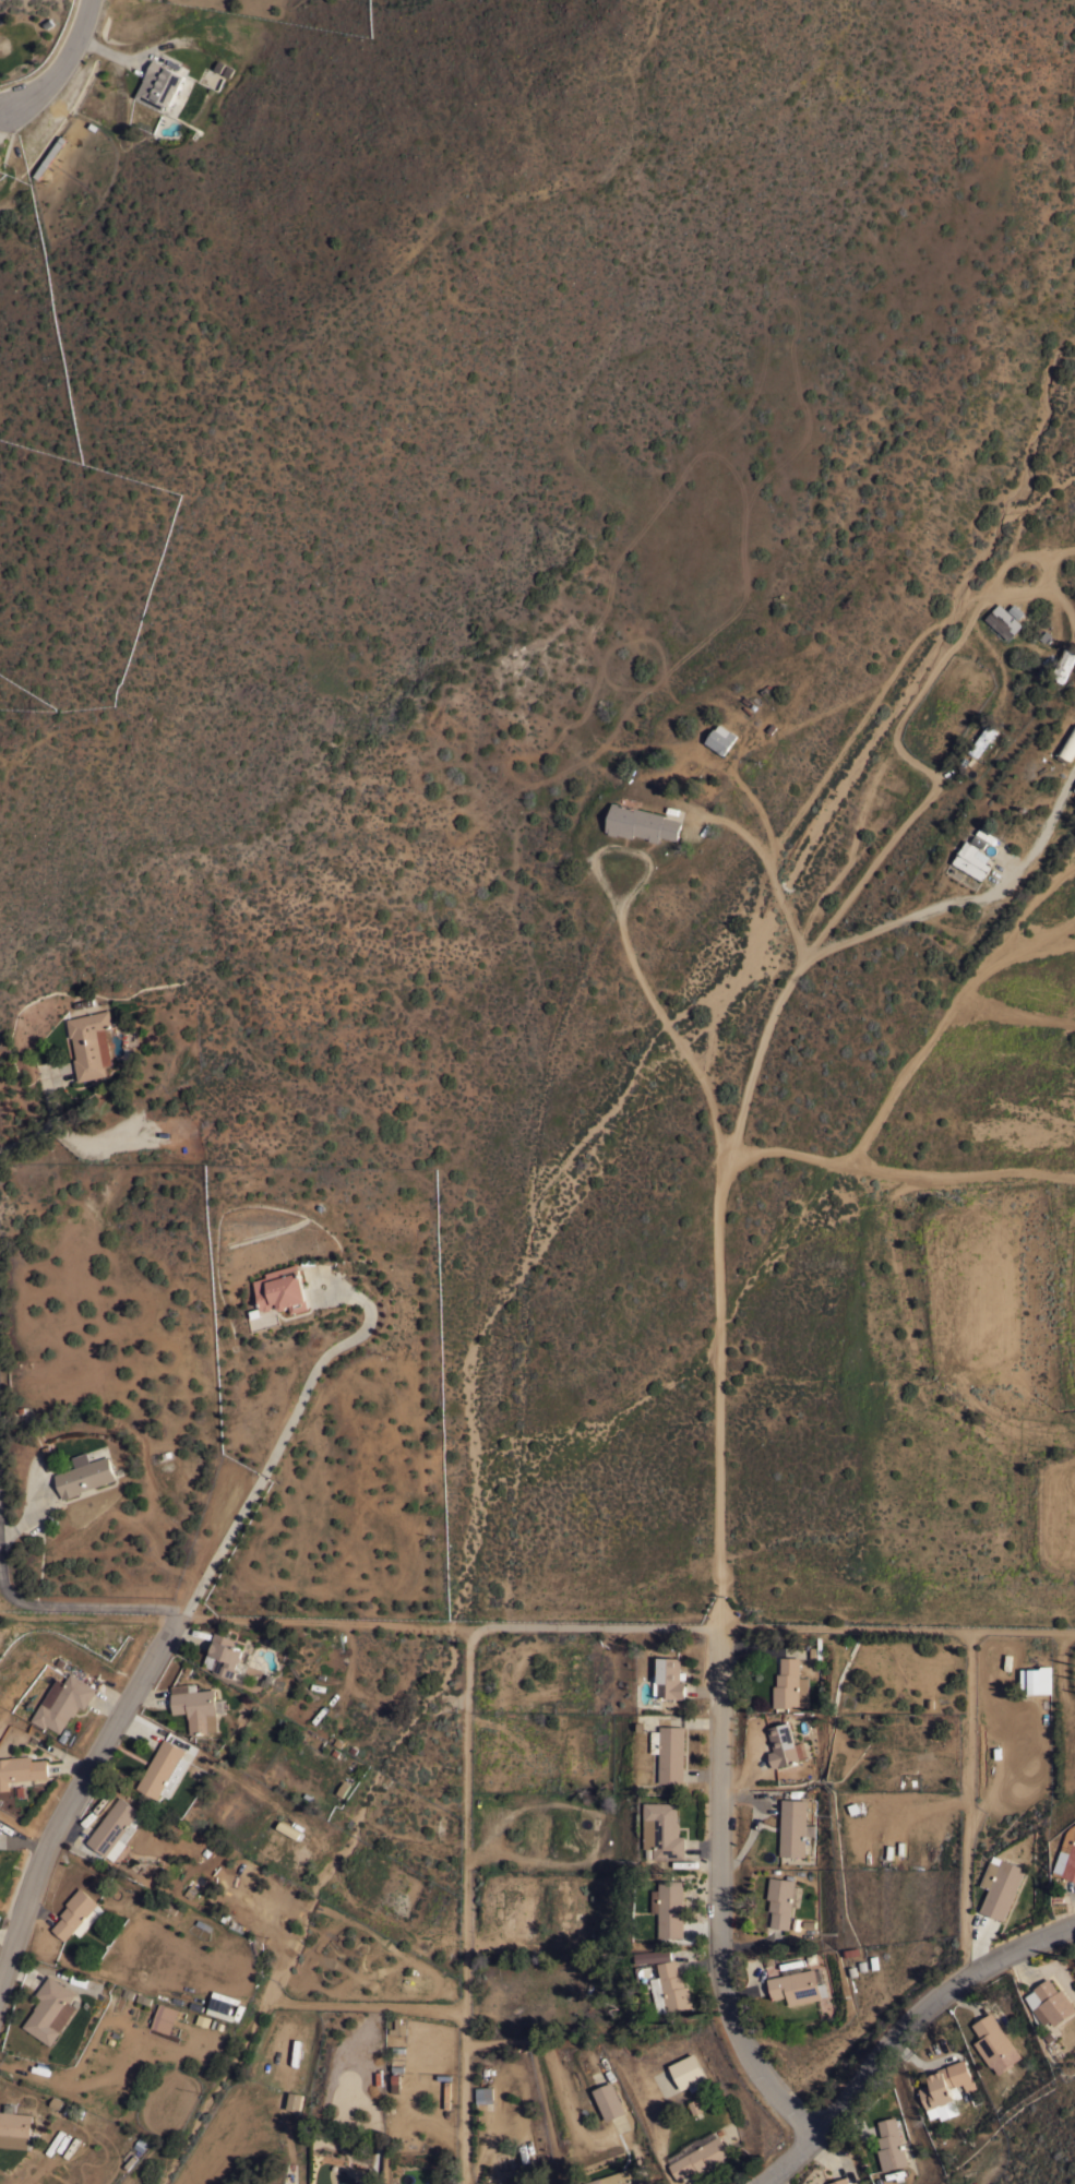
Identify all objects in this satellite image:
road: (62, 64)
building: (159, 84)
building: (1003, 621)
building: (1063, 664)
road: (898, 670)
building: (720, 738)
building: (979, 741)
building: (1067, 745)
building: (1074, 788)
building: (641, 823)
road: (759, 845)
building: (971, 859)
road: (847, 861)
road: (870, 867)
road: (626, 948)
road: (949, 1009)
building: (91, 1042)
road: (744, 1099)
road: (44, 1122)
road: (894, 1177)
building: (280, 1289)
road: (286, 1419)
building: (83, 1475)
road: (77, 1596)
road: (498, 1627)
road: (756, 1648)
building: (227, 1655)
building: (669, 1679)
building: (1035, 1681)
building: (790, 1684)
building: (64, 1700)
building: (196, 1707)
building: (781, 1745)
building: (669, 1752)
building: (21, 1769)
building: (164, 1769)
road: (76, 1777)
road: (741, 1794)
building: (793, 1827)
building: (116, 1829)
building: (662, 1830)
building: (292, 1833)
building: (1071, 1864)
road: (716, 1881)
building: (1001, 1885)
road: (1074, 1887)
building: (783, 1899)
building: (669, 1909)
building: (216, 1912)
building: (74, 1913)
road: (704, 1928)
road: (980, 1942)
road: (748, 1943)
building: (648, 1955)
road: (1022, 1966)
building: (797, 1986)
building: (671, 1989)
building: (225, 1997)
building: (1052, 2003)
building: (50, 2009)
building: (219, 2013)
building: (164, 2018)
building: (398, 2027)
road: (899, 2029)
building: (994, 2043)
building: (688, 2073)
building: (665, 2081)
building: (395, 2082)
building: (945, 2088)
building: (446, 2093)
building: (483, 2095)
building: (608, 2100)
building: (294, 2101)
building: (695, 2105)
building: (15, 2129)
building: (889, 2144)
building: (702, 2157)
road: (821, 2157)
building: (619, 2179)
road: (773, 2180)
building: (839, 2181)

